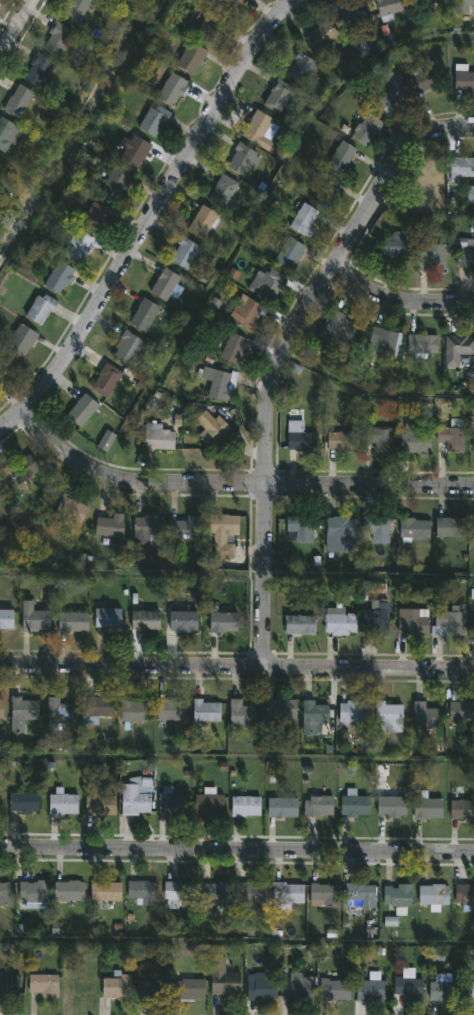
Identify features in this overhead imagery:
building: (430, 2)
building: (230, 4)
building: (464, 6)
building: (389, 7)
building: (76, 10)
building: (355, 17)
road: (14, 26)
building: (208, 28)
building: (322, 36)
building: (57, 40)
building: (190, 58)
building: (299, 69)
building: (37, 71)
building: (423, 82)
building: (464, 82)
building: (172, 90)
building: (392, 96)
building: (277, 97)
building: (18, 102)
building: (153, 121)
building: (256, 128)
building: (366, 130)
building: (8, 136)
building: (134, 153)
building: (341, 159)
building: (242, 160)
building: (461, 169)
building: (115, 184)
building: (432, 186)
building: (326, 191)
building: (222, 192)
building: (470, 195)
road: (423, 211)
road: (255, 213)
building: (97, 215)
road: (149, 217)
building: (303, 221)
building: (202, 223)
building: (77, 246)
building: (396, 246)
building: (184, 254)
building: (288, 254)
building: (465, 255)
building: (432, 256)
building: (59, 278)
building: (164, 285)
building: (267, 285)
road: (397, 299)
building: (40, 310)
building: (246, 314)
building: (144, 316)
building: (338, 329)
building: (20, 342)
building: (381, 344)
building: (422, 345)
building: (127, 348)
building: (458, 349)
building: (234, 350)
road: (278, 352)
building: (3, 369)
building: (106, 381)
building: (215, 382)
road: (372, 391)
building: (81, 411)
building: (210, 429)
building: (300, 438)
building: (378, 439)
building: (415, 439)
building: (450, 439)
building: (159, 440)
building: (105, 442)
building: (342, 442)
building: (23, 470)
road: (236, 484)
building: (71, 509)
building: (109, 527)
building: (450, 528)
building: (147, 529)
building: (184, 529)
building: (299, 530)
building: (377, 530)
building: (414, 531)
building: (222, 534)
building: (340, 535)
road: (130, 567)
road: (367, 573)
building: (34, 619)
building: (6, 620)
building: (107, 620)
building: (375, 622)
building: (72, 623)
building: (145, 623)
building: (183, 623)
building: (223, 623)
building: (411, 623)
building: (446, 623)
building: (340, 624)
building: (299, 626)
building: (472, 628)
road: (236, 666)
building: (1, 709)
building: (98, 710)
building: (281, 710)
building: (132, 711)
building: (170, 712)
building: (206, 712)
building: (461, 712)
building: (58, 713)
building: (353, 713)
building: (22, 714)
building: (240, 714)
building: (314, 717)
building: (424, 717)
building: (388, 719)
road: (236, 758)
building: (136, 798)
building: (23, 804)
building: (172, 804)
building: (63, 806)
building: (100, 806)
building: (209, 806)
building: (318, 807)
building: (354, 807)
building: (245, 808)
building: (282, 808)
building: (391, 808)
building: (462, 809)
building: (428, 810)
road: (236, 849)
building: (32, 893)
building: (69, 893)
building: (105, 893)
building: (142, 894)
building: (251, 894)
building: (288, 894)
building: (5, 895)
building: (178, 895)
building: (214, 895)
building: (325, 895)
building: (360, 895)
building: (433, 895)
building: (464, 895)
building: (397, 896)
road: (236, 938)
building: (223, 981)
building: (8, 983)
building: (42, 986)
building: (80, 988)
building: (116, 988)
building: (299, 989)
building: (152, 990)
building: (372, 990)
building: (408, 990)
building: (189, 991)
building: (261, 991)
building: (470, 991)
building: (334, 992)
building: (442, 993)

